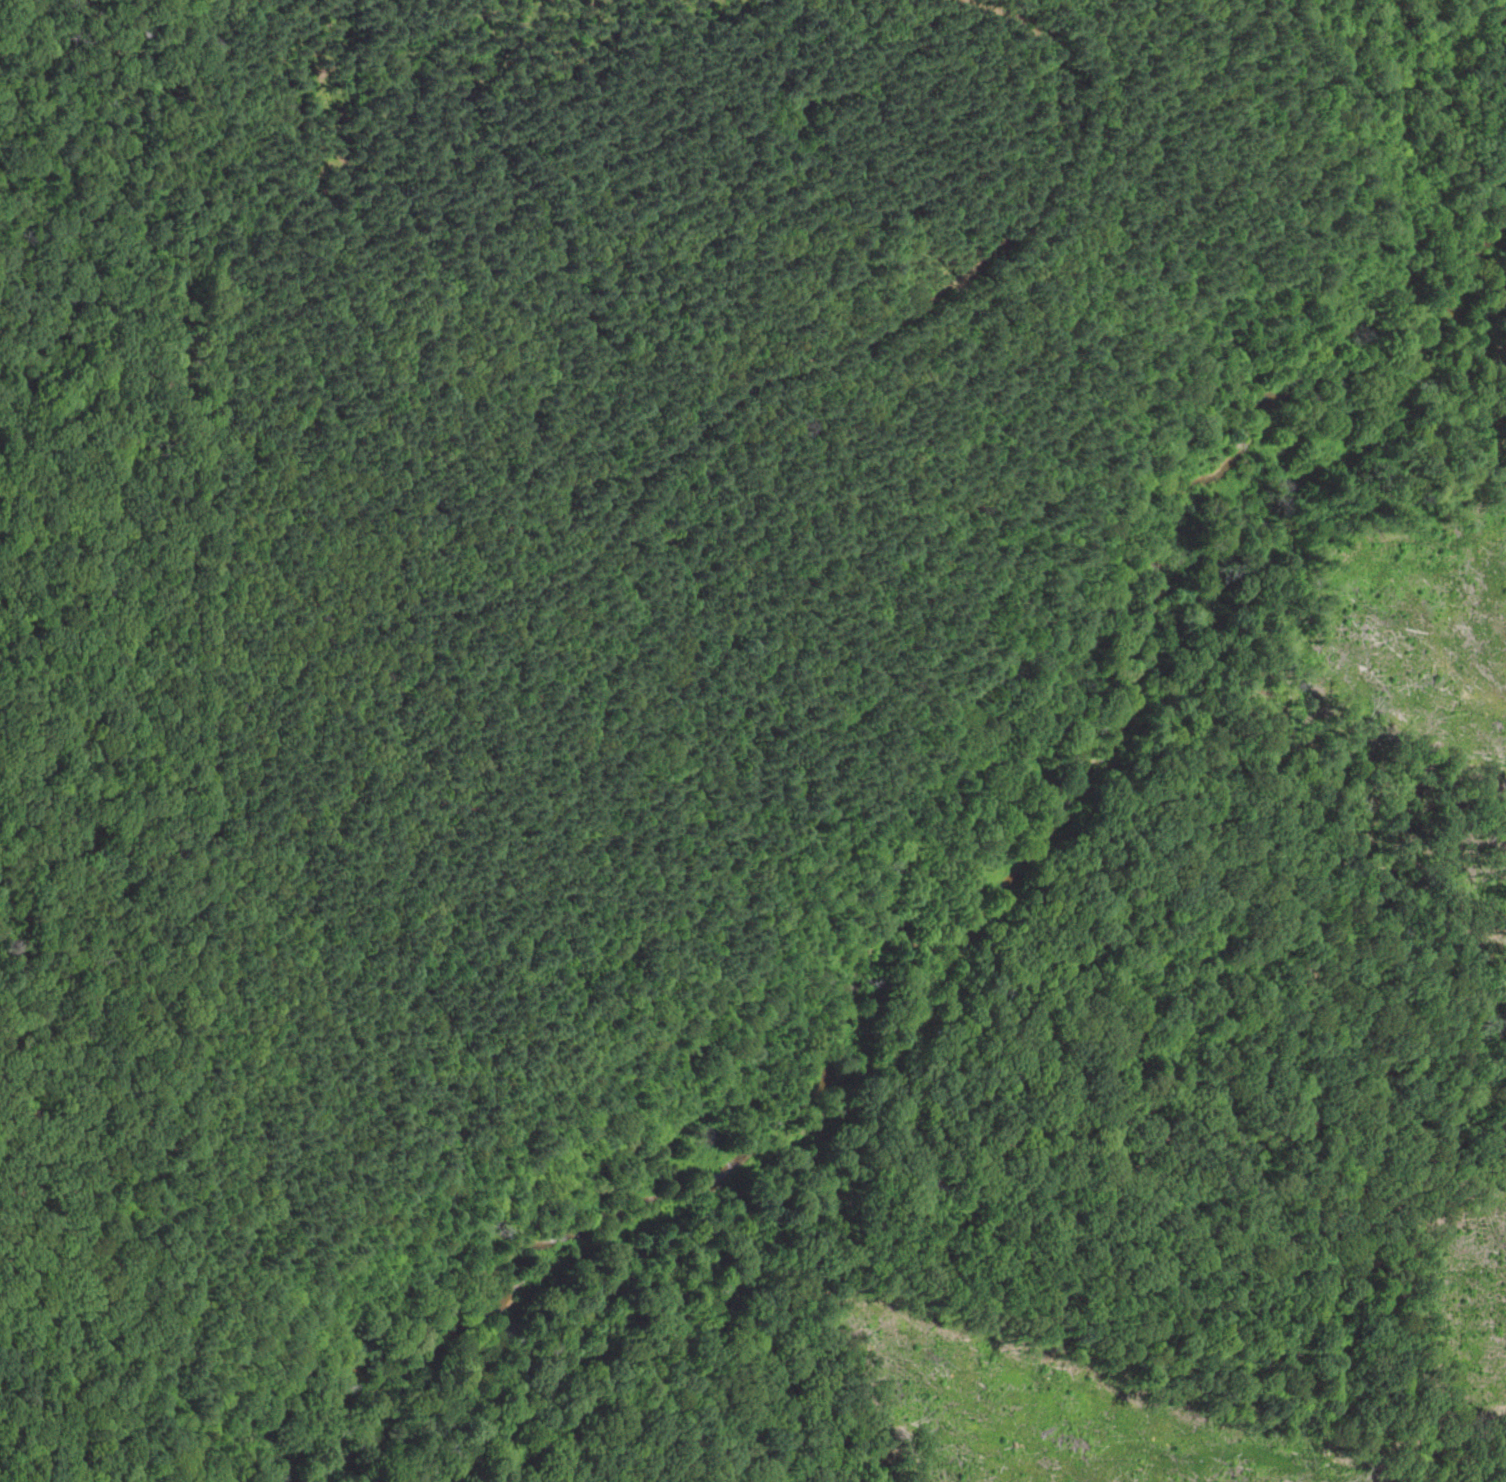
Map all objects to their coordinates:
road: (820, 353)

